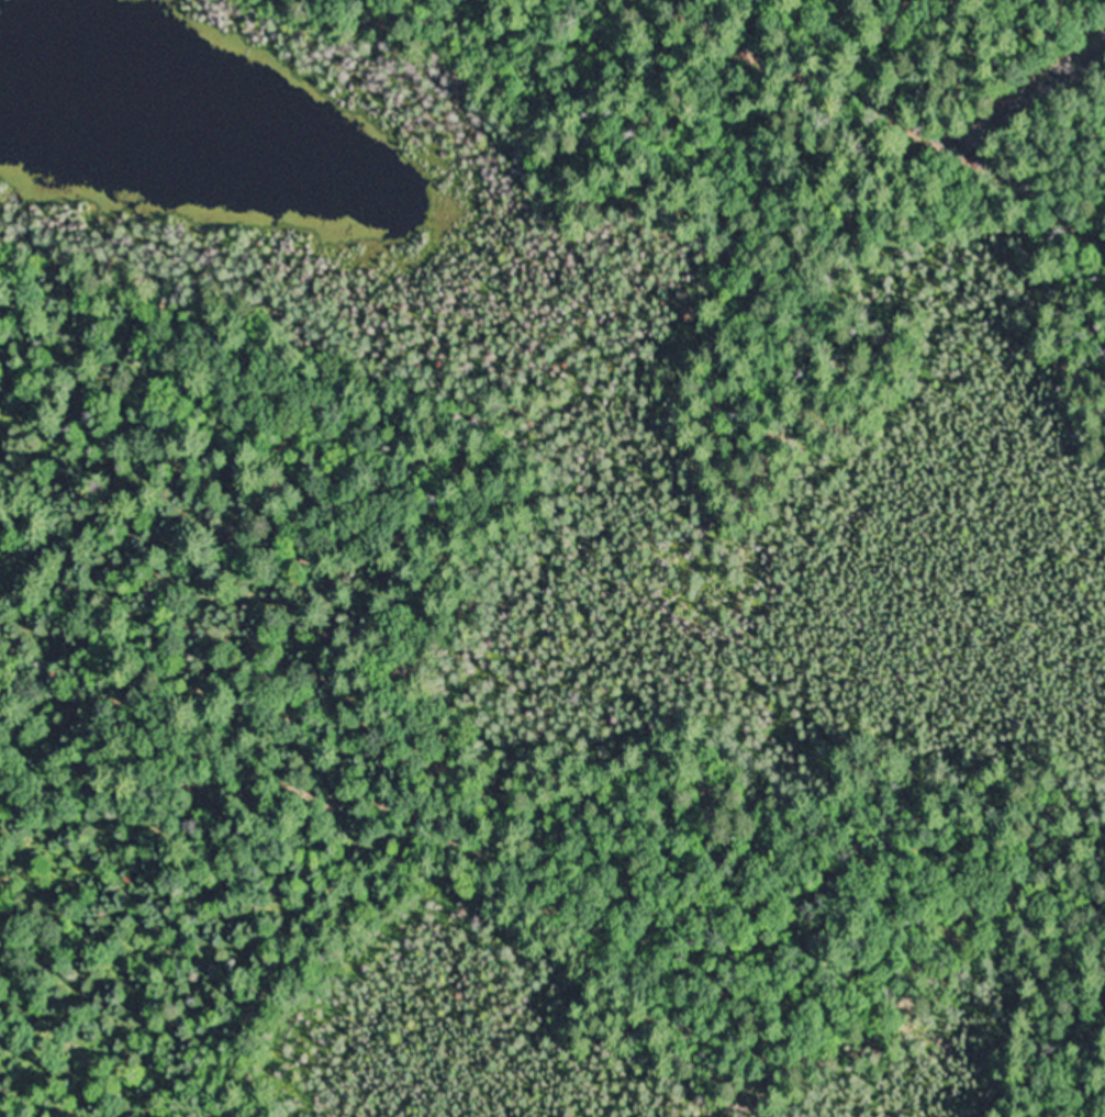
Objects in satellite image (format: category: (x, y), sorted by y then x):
road: (1030, 93)
road: (889, 112)
road: (1093, 1072)

